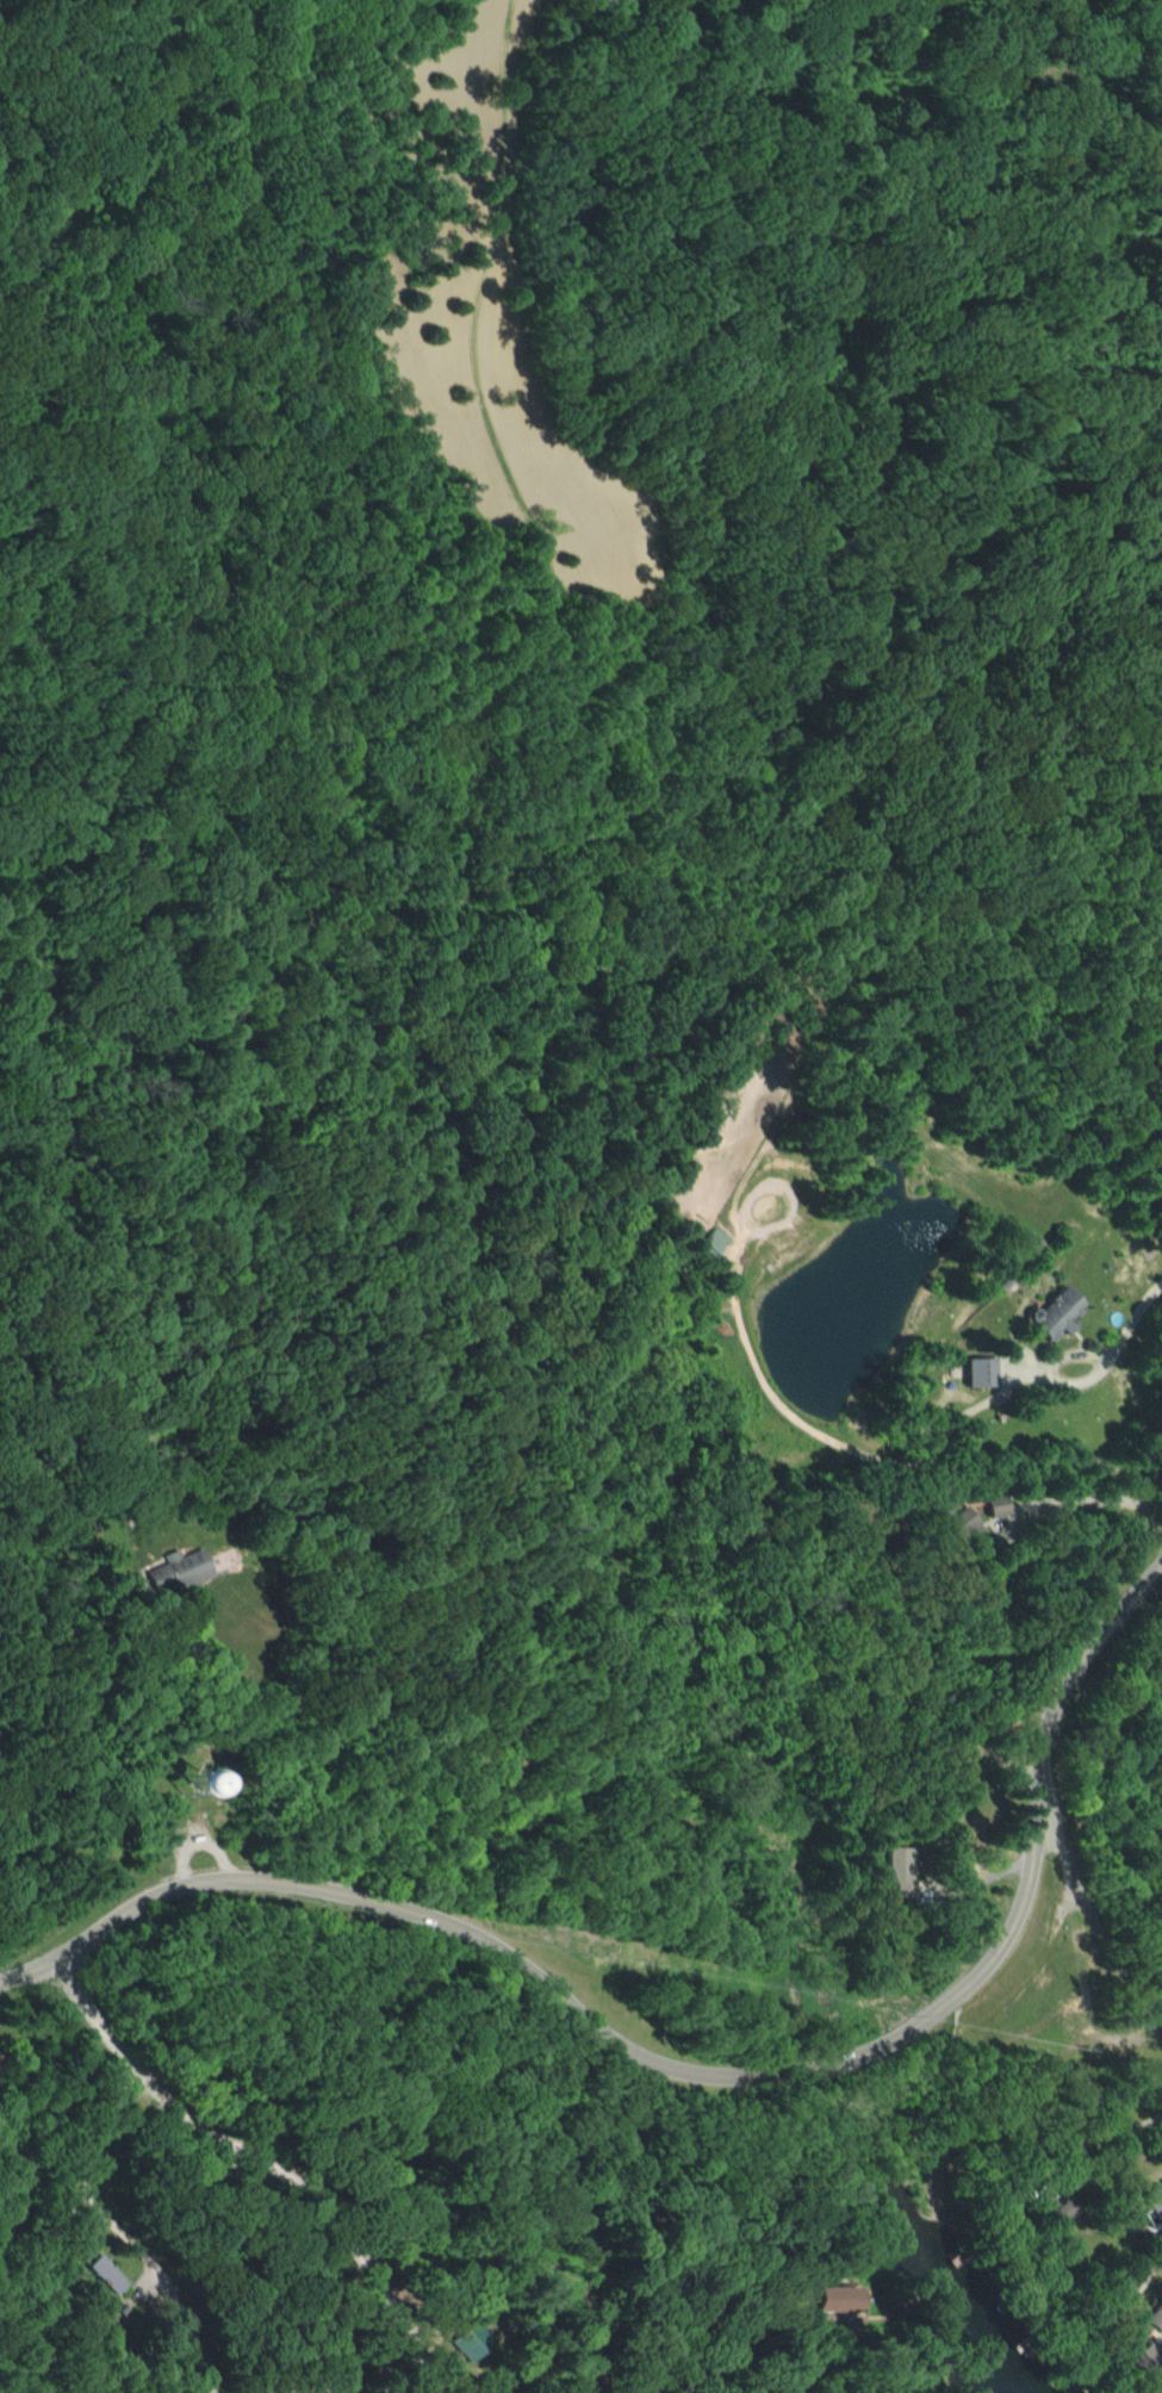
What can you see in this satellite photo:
building: (713, 1241)
building: (1060, 1312)
road: (1123, 1332)
building: (981, 1372)
road: (1093, 1500)
building: (1001, 1506)
road: (1145, 1521)
building: (965, 1522)
building: (179, 1572)
road: (298, 1752)
building: (901, 1872)
road: (1086, 1908)
road: (696, 2075)
road: (260, 2163)
building: (1155, 2201)
building: (1061, 2209)
road: (122, 2236)
building: (106, 2275)
building: (833, 2299)
building: (1156, 2319)
road: (725, 2331)
building: (467, 2344)

